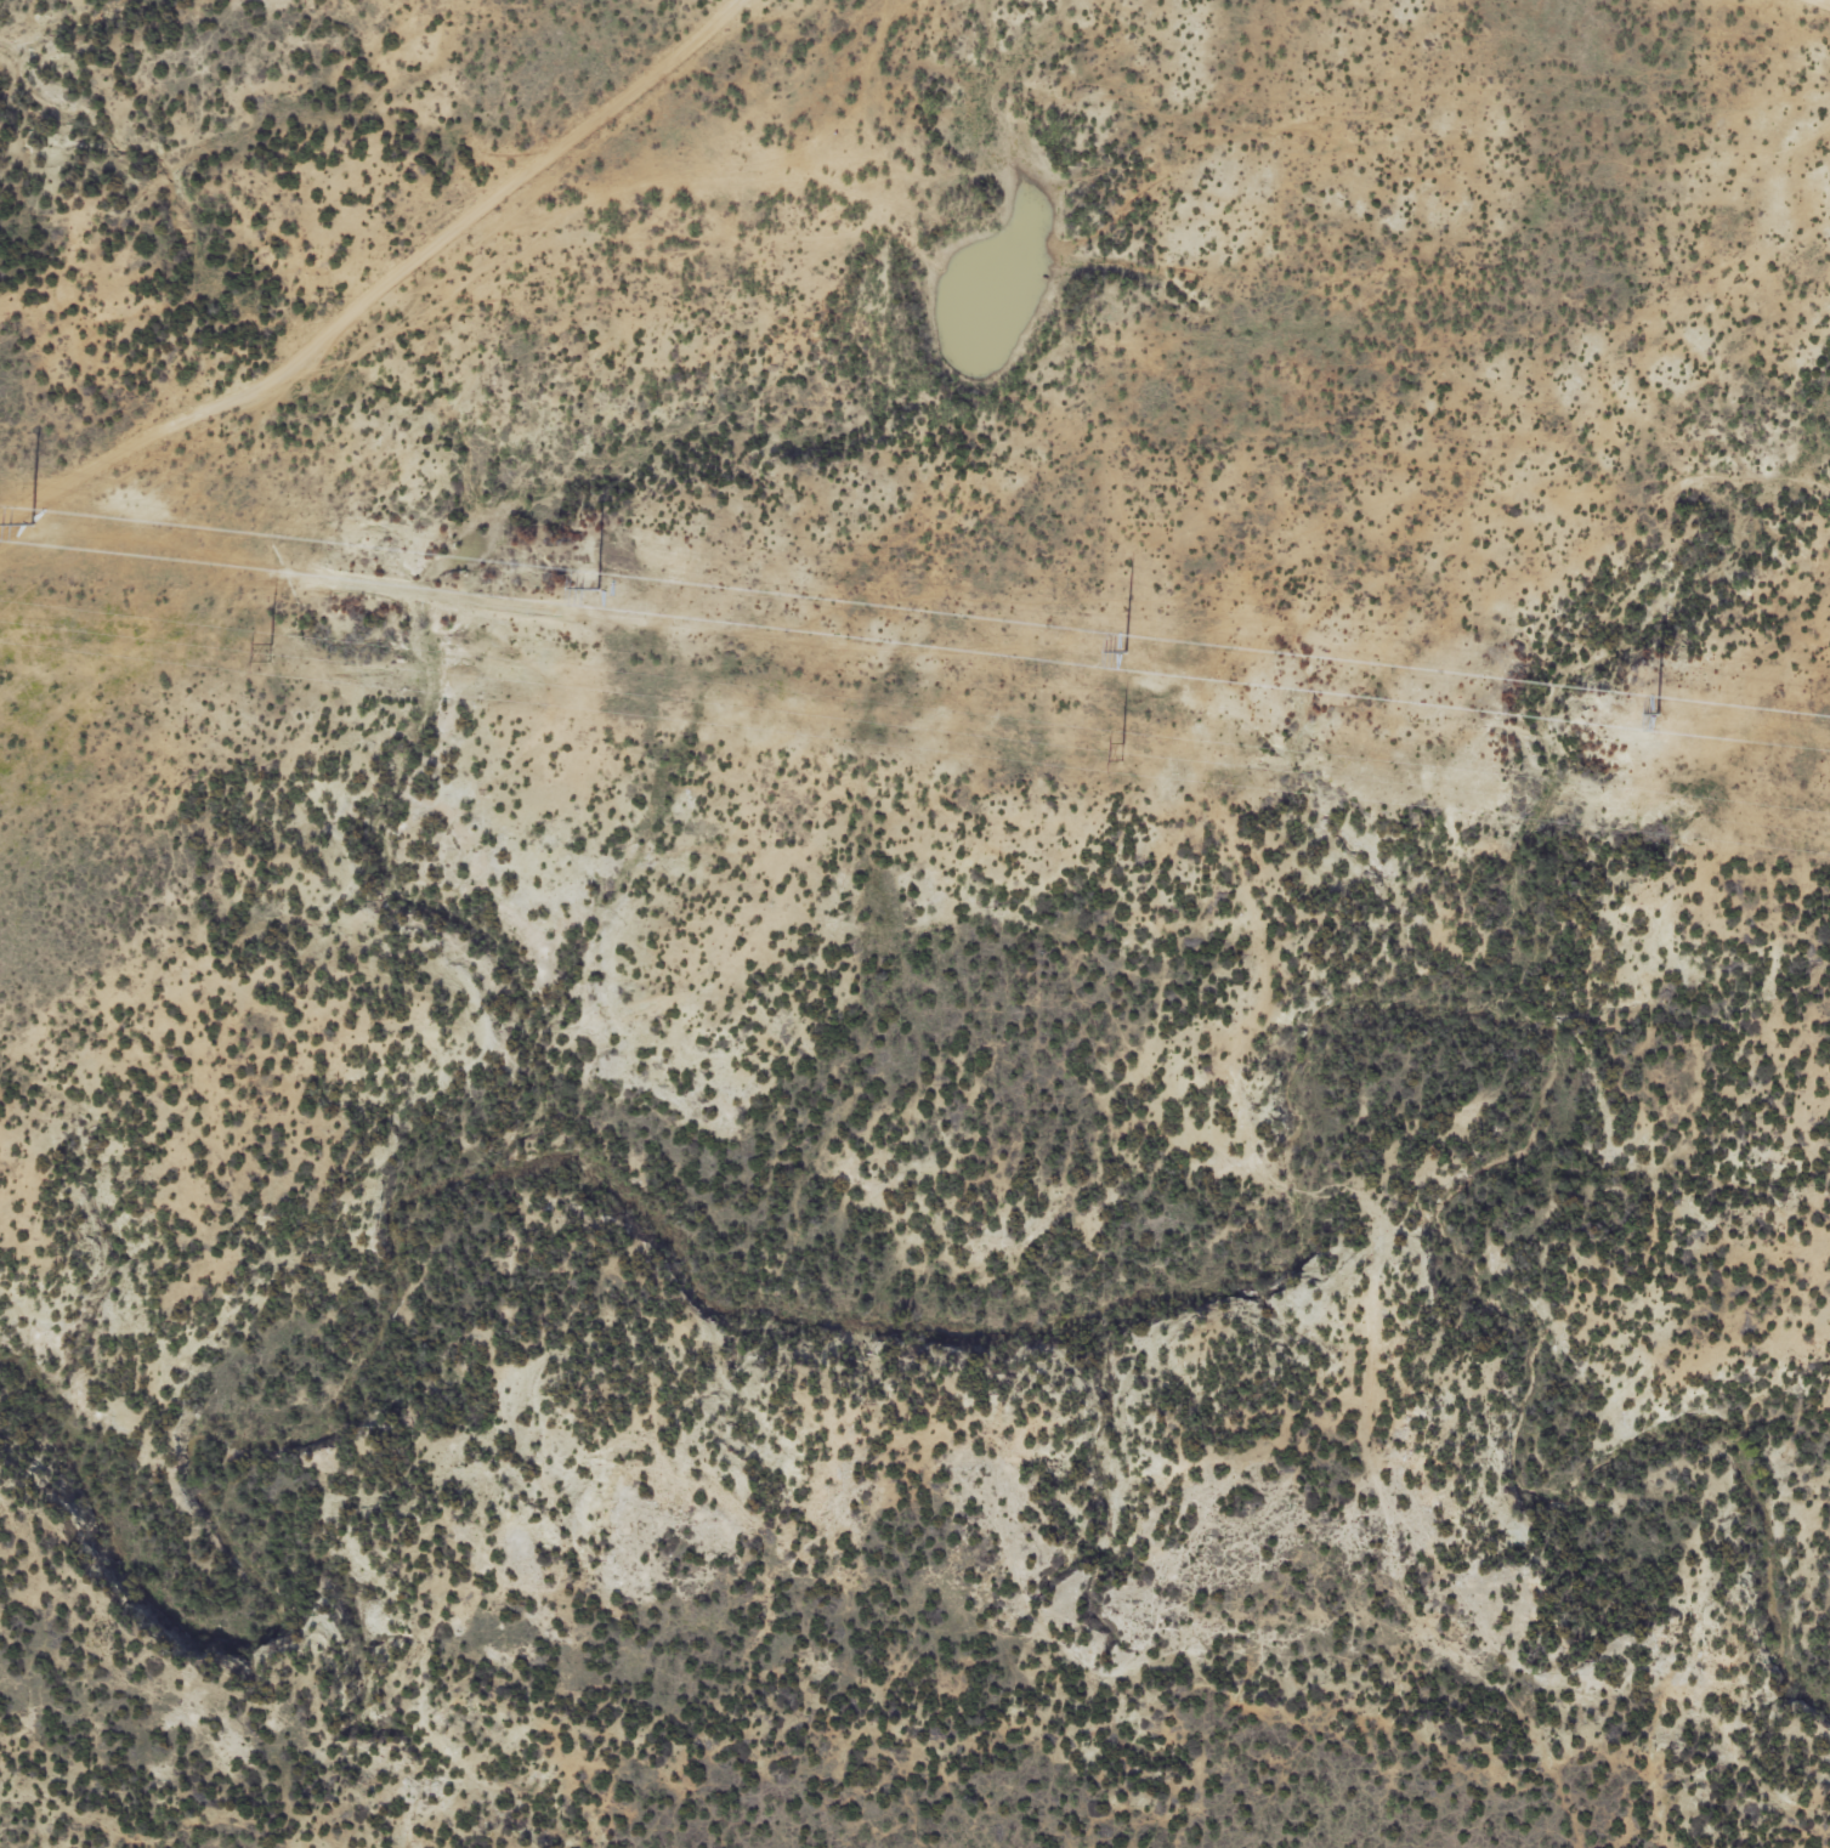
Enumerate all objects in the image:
road: (352, 270)
power tower: (32, 523)
power tower: (596, 588)
power tower: (1126, 651)
power tower: (264, 654)
power tower: (1659, 713)
power tower: (1121, 753)

